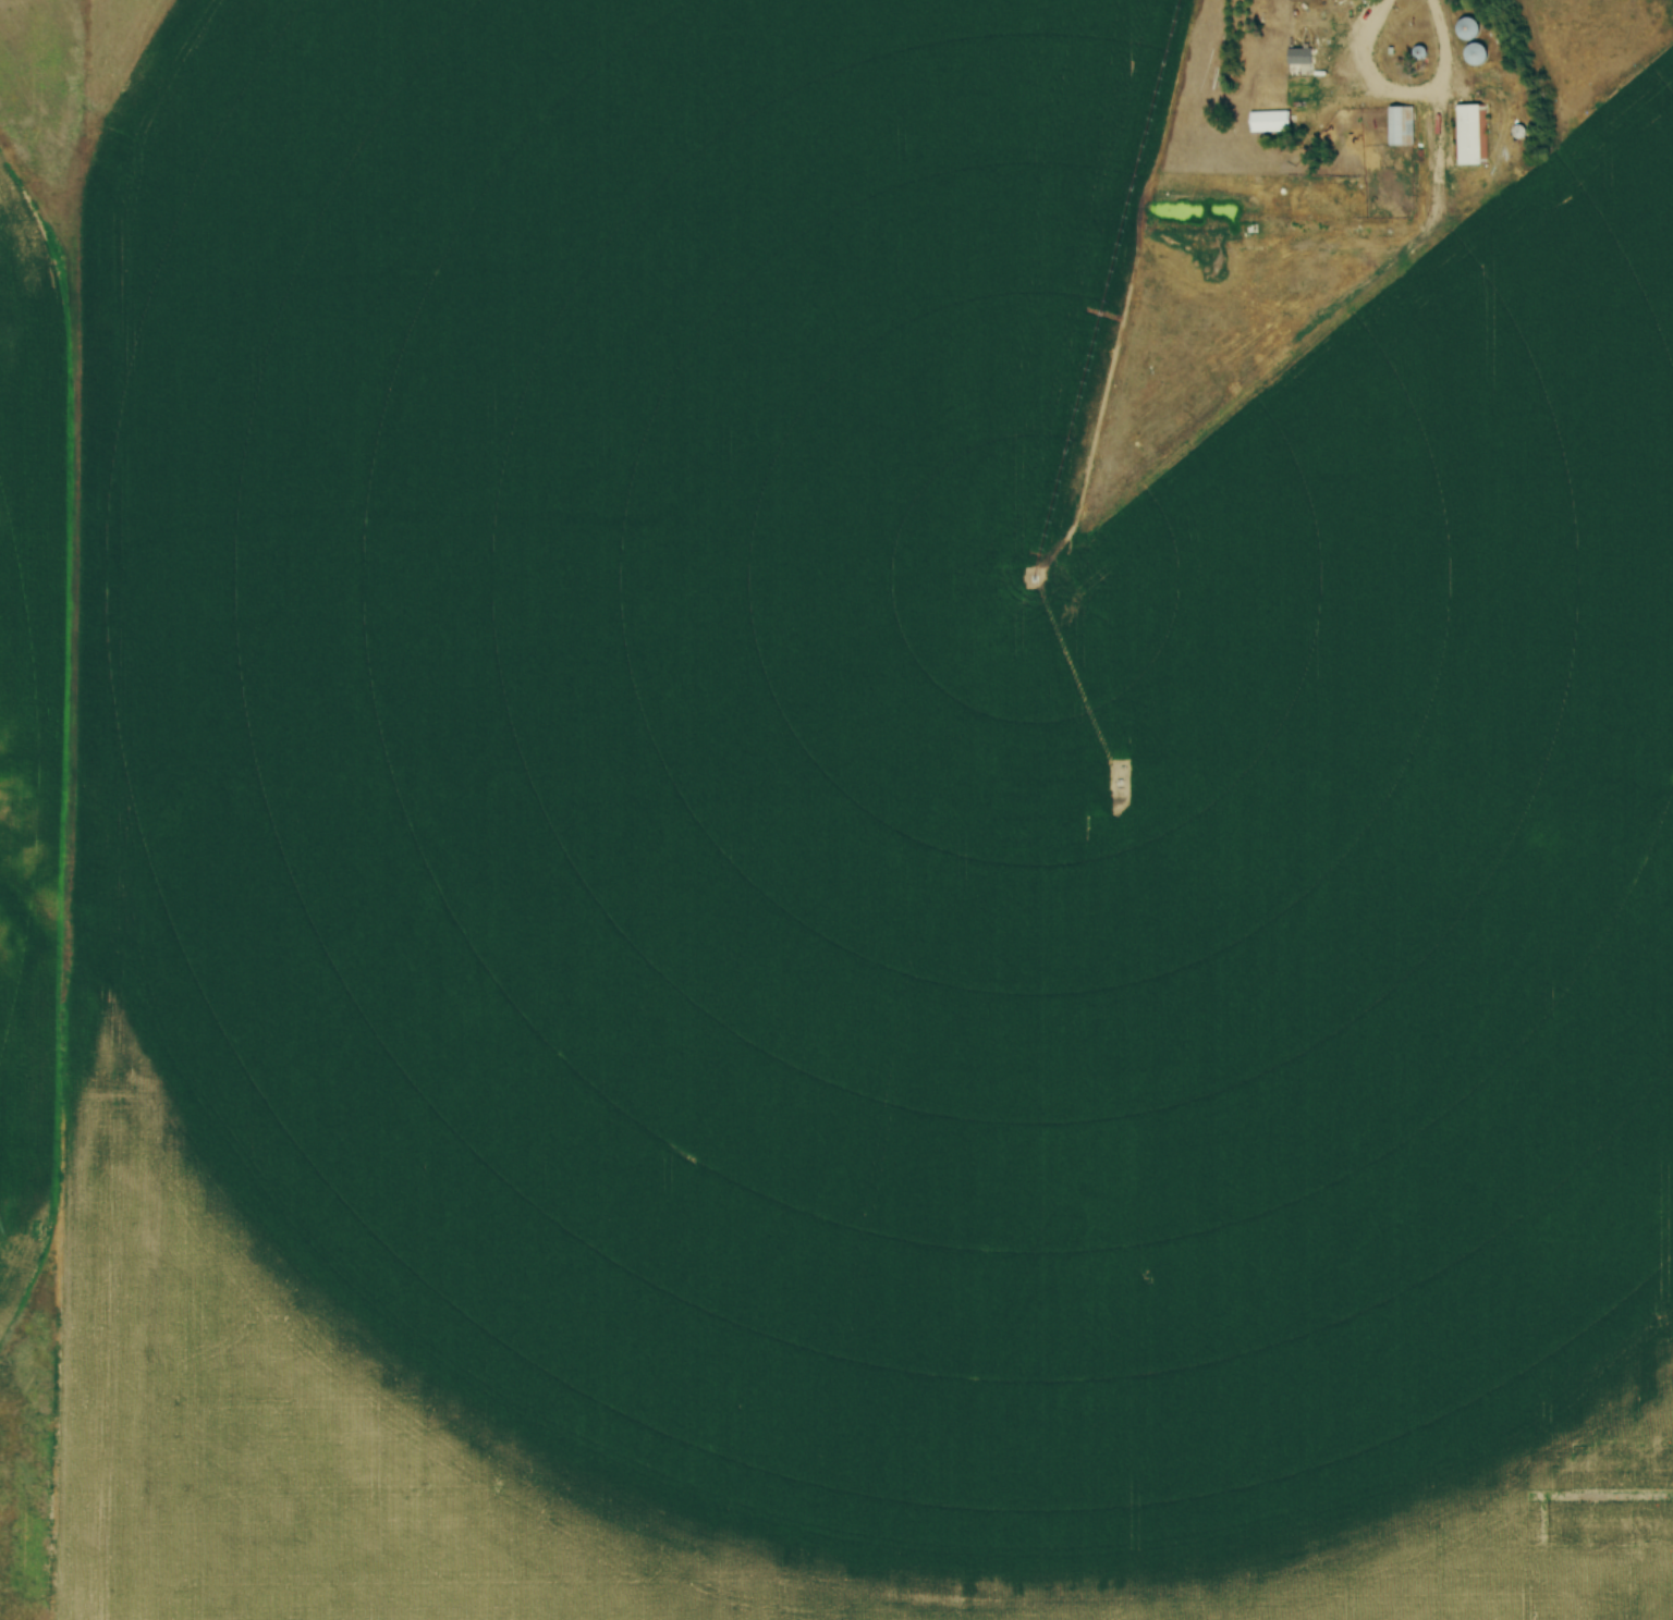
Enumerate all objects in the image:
building: (1469, 30)
building: (1477, 56)
building: (1300, 59)
building: (1273, 86)
road: (1405, 94)
building: (1270, 124)
building: (1402, 128)
building: (1469, 136)

